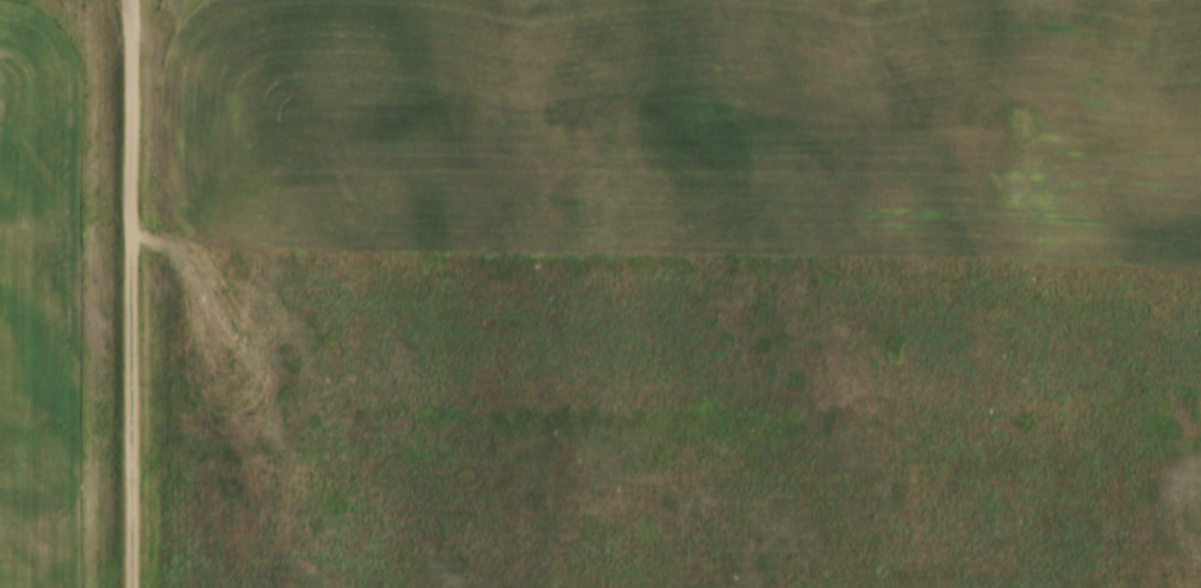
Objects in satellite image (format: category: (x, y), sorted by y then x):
road: (135, 294)

